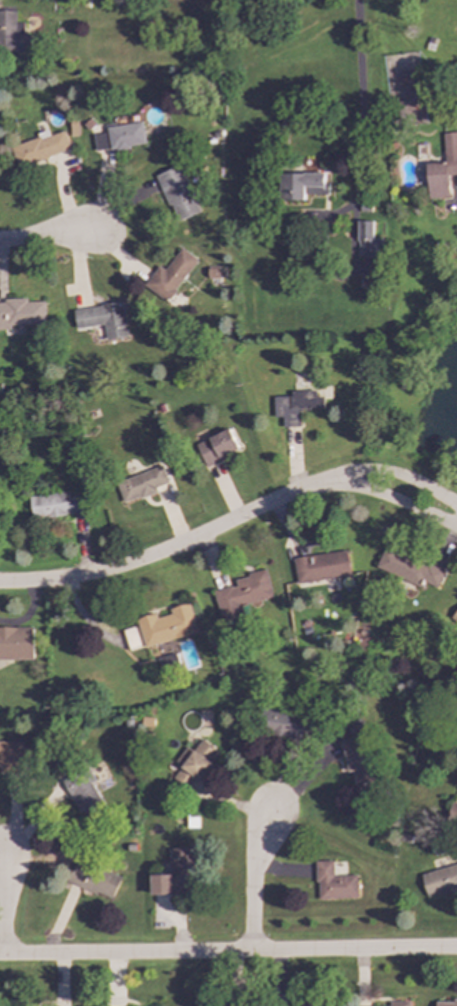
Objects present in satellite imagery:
building: (14, 36)
road: (361, 106)
building: (119, 137)
building: (40, 148)
building: (443, 168)
building: (303, 185)
building: (178, 193)
road: (46, 236)
building: (367, 241)
building: (170, 275)
building: (20, 313)
building: (102, 319)
building: (294, 406)
building: (216, 447)
road: (387, 473)
building: (140, 484)
road: (386, 498)
building: (55, 505)
road: (161, 552)
building: (320, 567)
building: (407, 569)
building: (241, 594)
building: (456, 611)
building: (166, 625)
building: (132, 638)
building: (16, 643)
building: (167, 661)
building: (282, 724)
building: (10, 757)
building: (192, 764)
building: (359, 766)
building: (83, 796)
building: (453, 811)
building: (175, 874)
road: (251, 876)
building: (92, 880)
building: (440, 880)
building: (332, 883)
road: (2, 901)
road: (228, 951)
building: (398, 1003)
building: (445, 1003)

